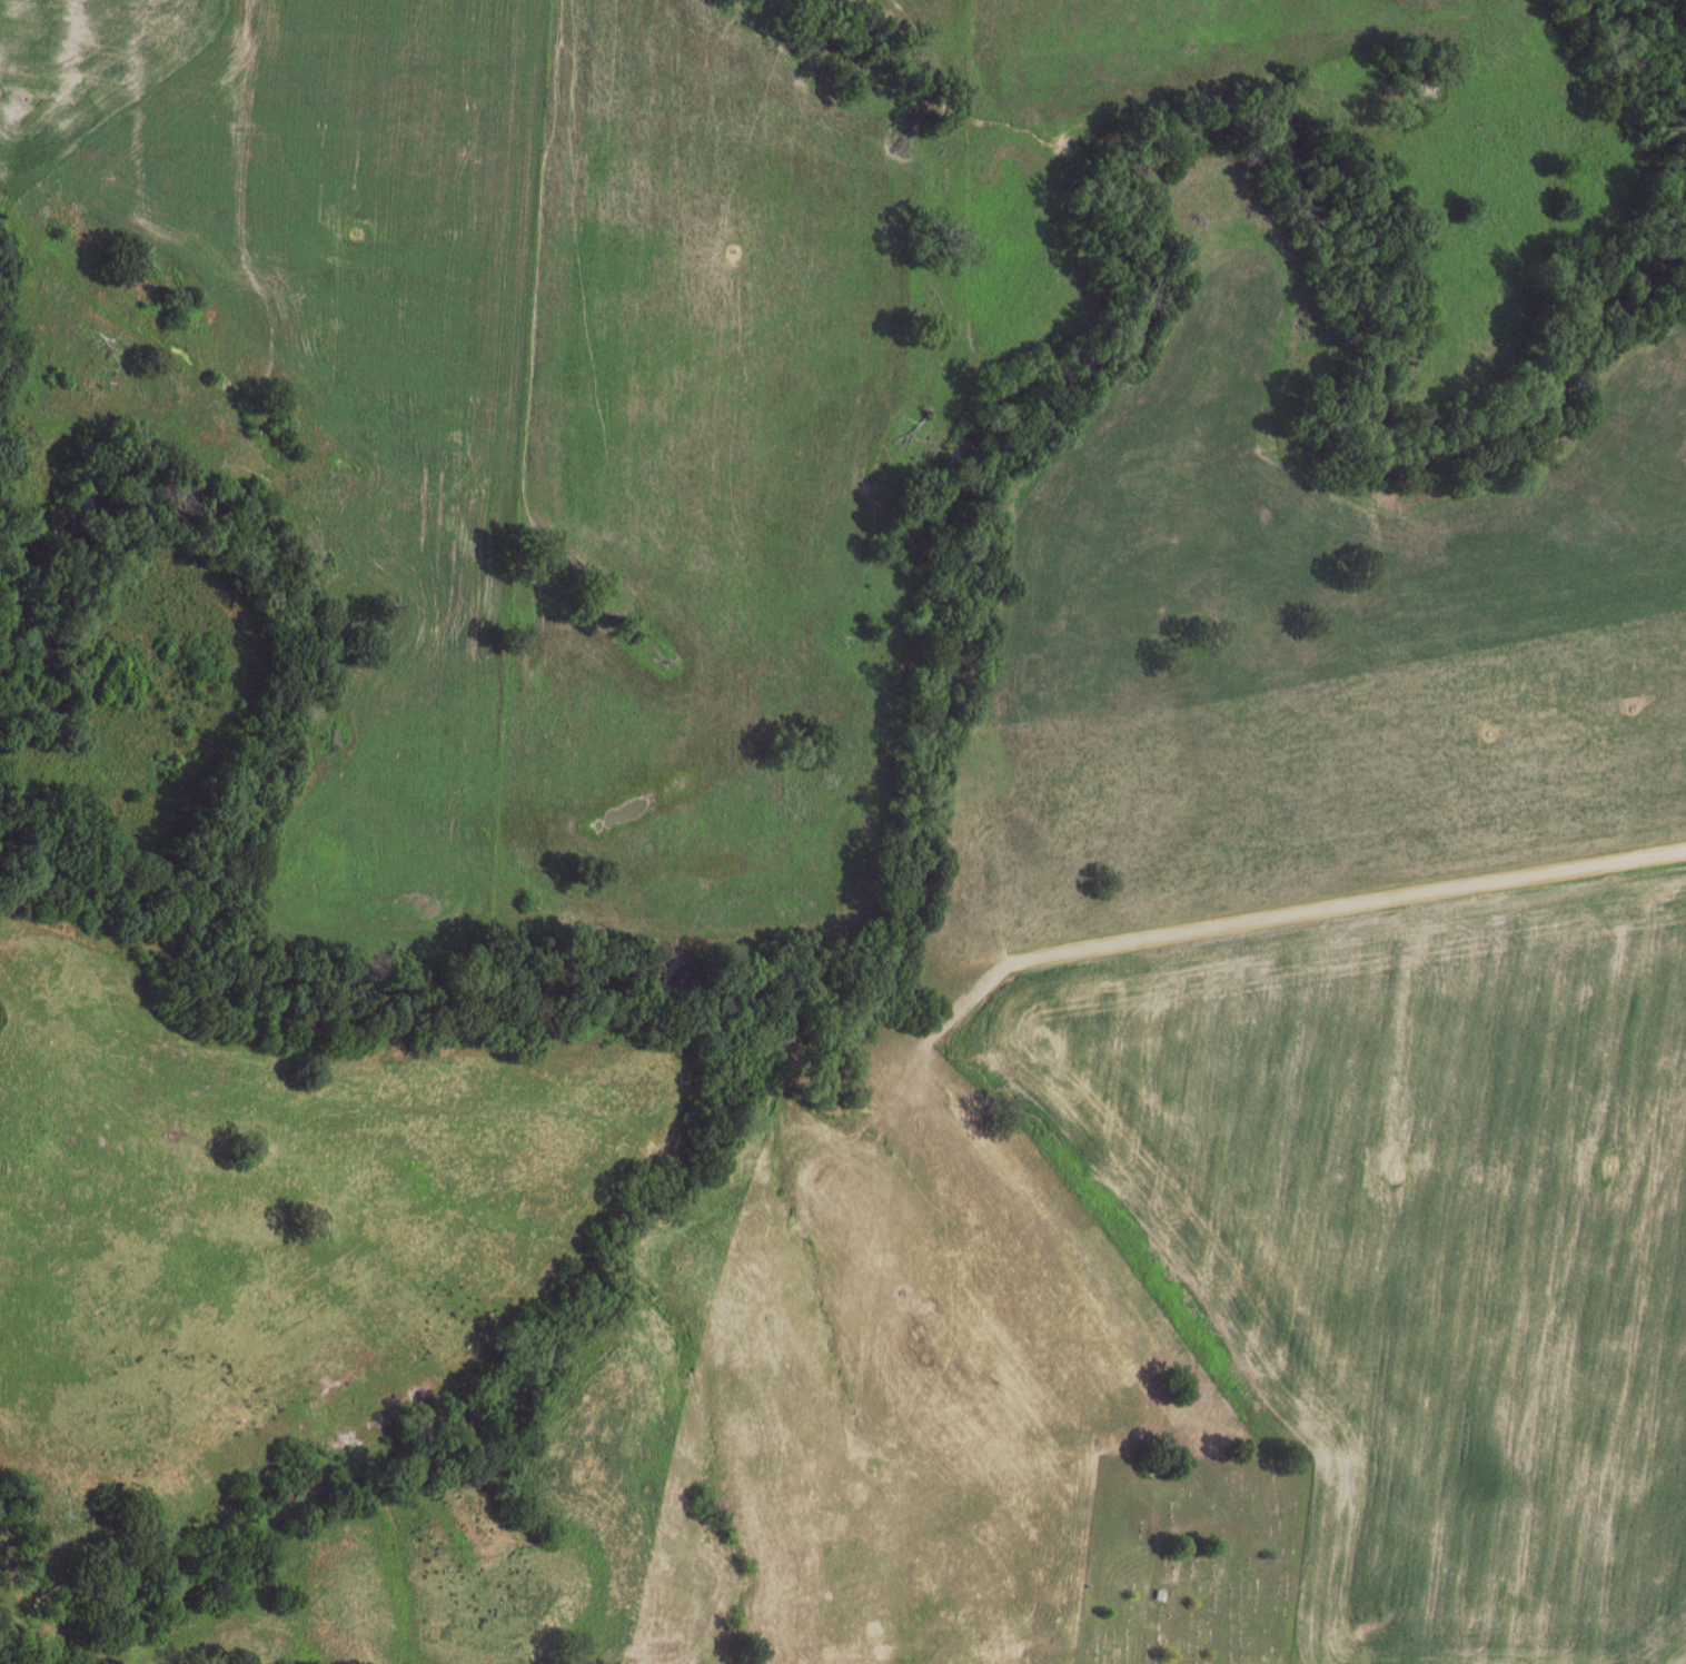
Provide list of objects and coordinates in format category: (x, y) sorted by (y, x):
park: (1191, 1558)

